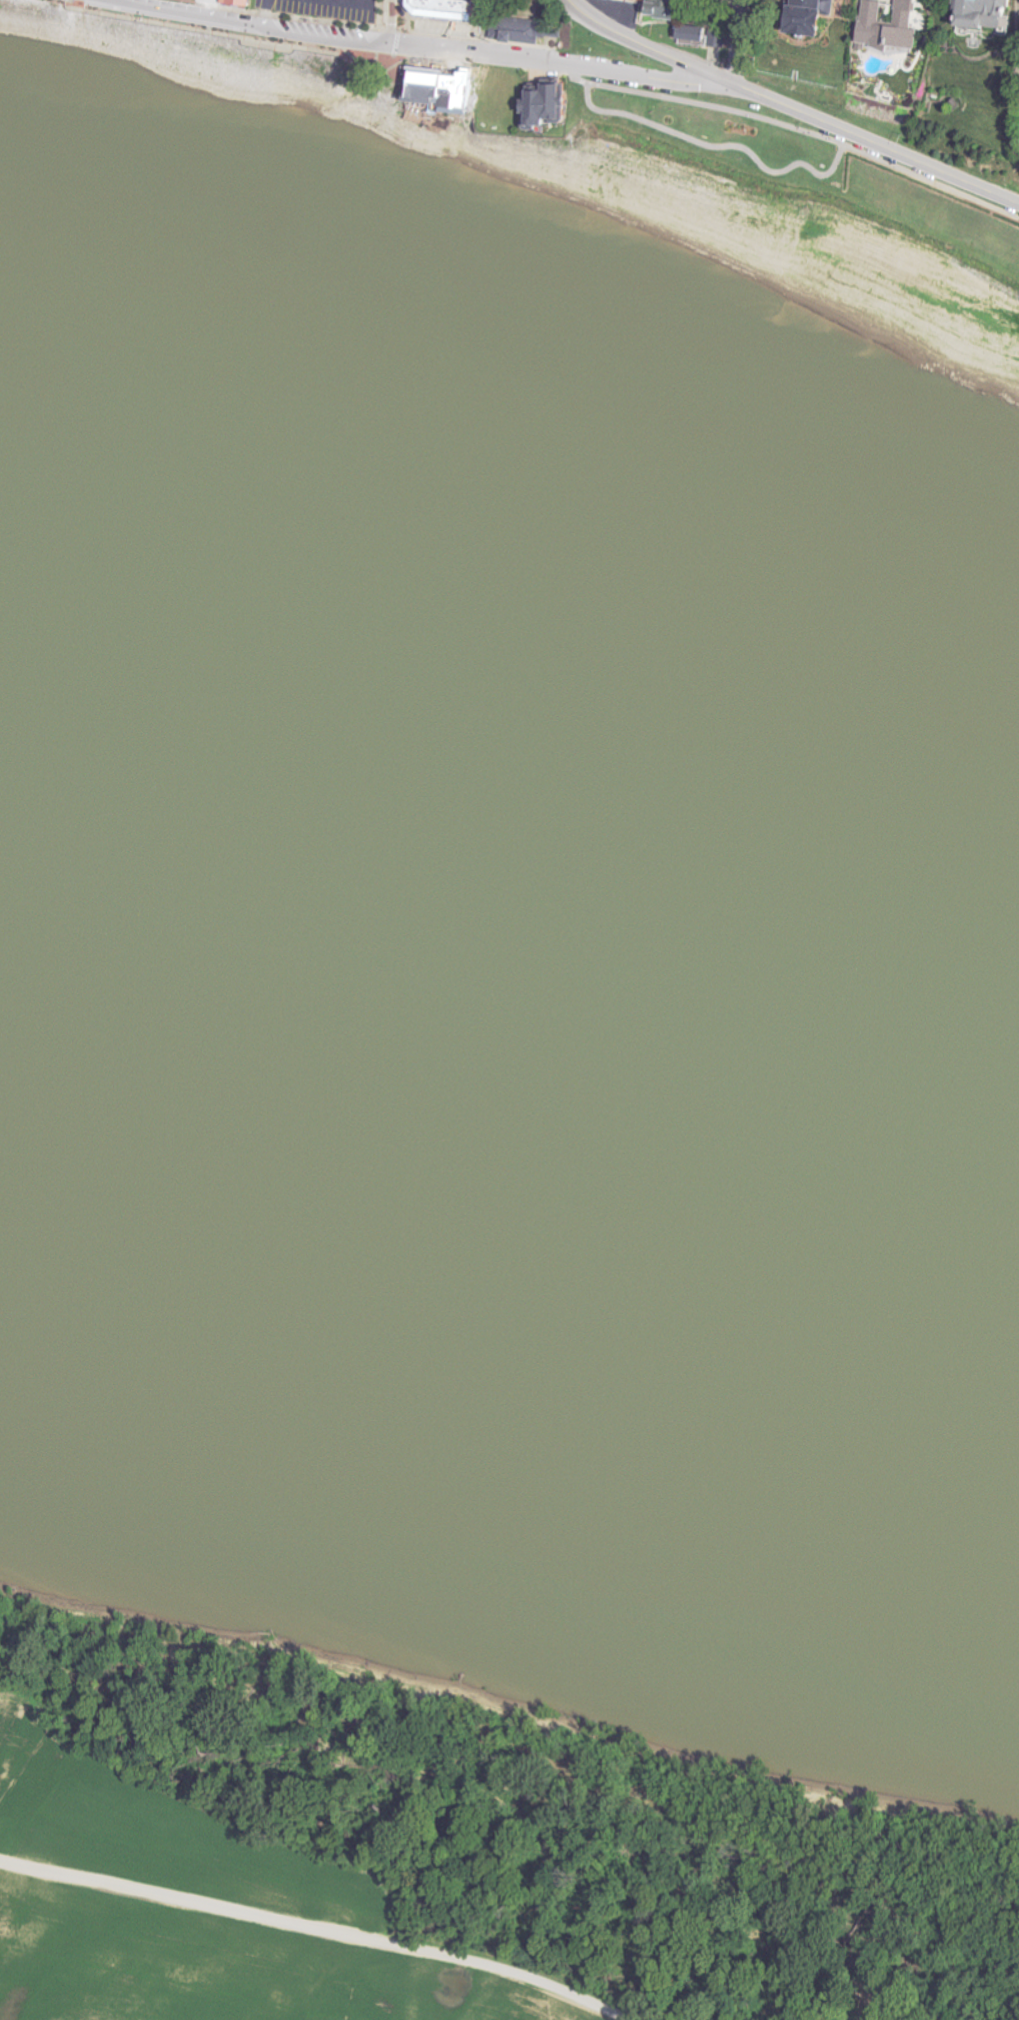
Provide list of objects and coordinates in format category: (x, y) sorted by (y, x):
parking lot: (209, 1)
building: (232, 2)
parking lot: (322, 7)
building: (437, 8)
building: (658, 8)
building: (988, 13)
road: (262, 15)
building: (814, 16)
road: (387, 20)
road: (252, 24)
building: (891, 25)
building: (518, 28)
building: (694, 34)
road: (732, 41)
road: (344, 51)
road: (372, 56)
road: (558, 63)
road: (545, 68)
road: (385, 77)
building: (433, 87)
road: (361, 92)
building: (538, 104)
road: (789, 107)
road: (714, 146)
river: (509, 883)
road: (319, 1927)

